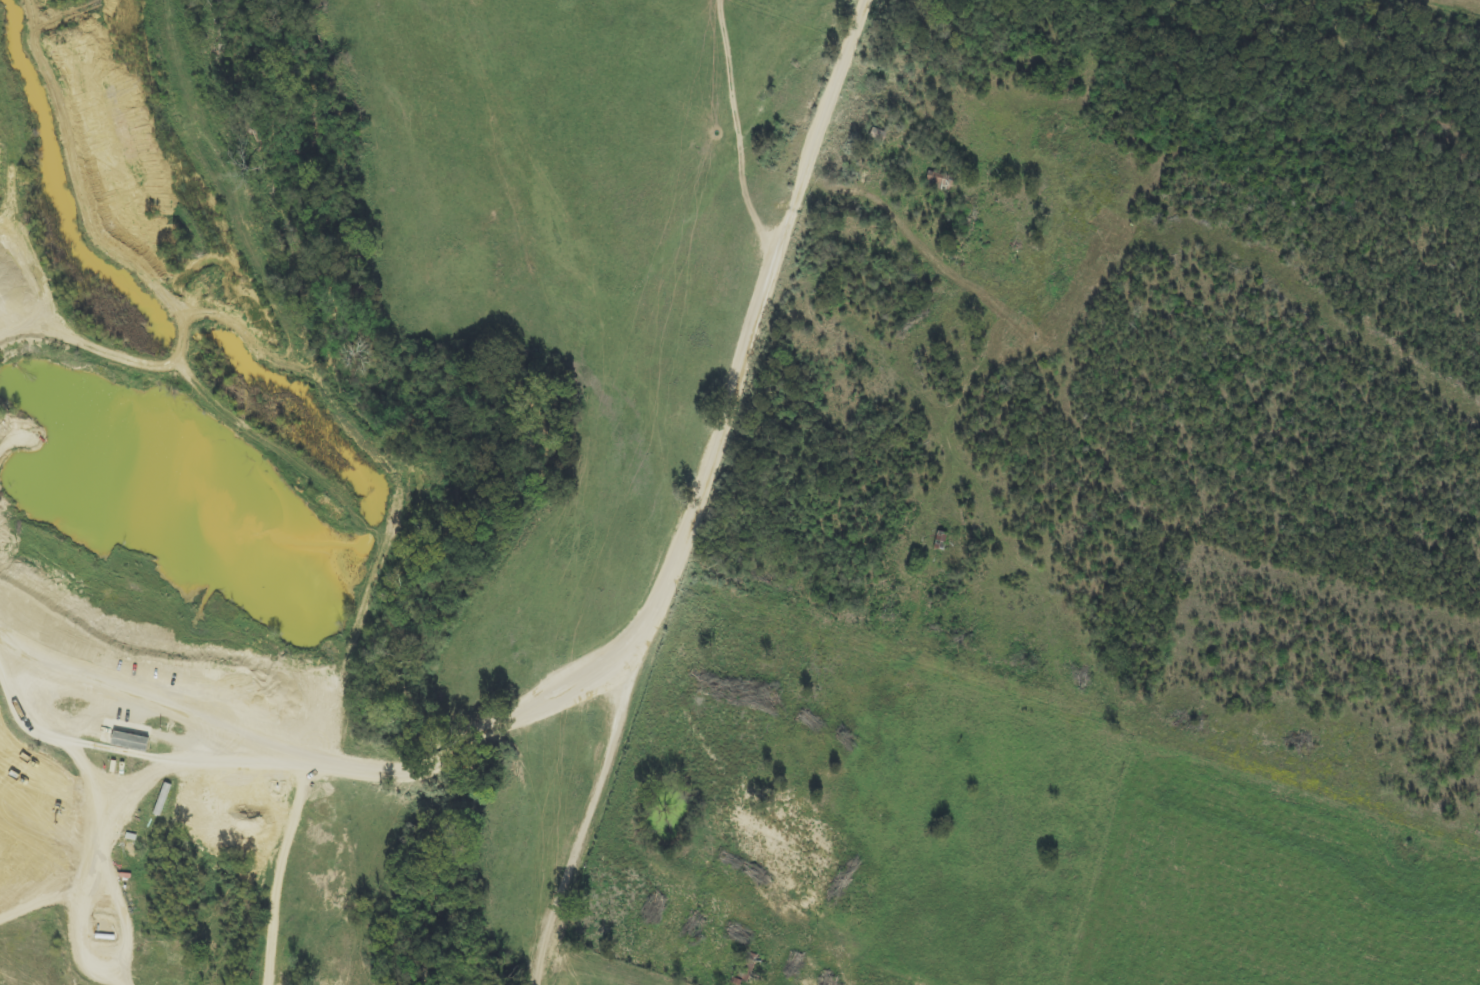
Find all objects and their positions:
road: (727, 494)
road: (13, 652)
road: (37, 667)
road: (244, 738)
building: (129, 742)

